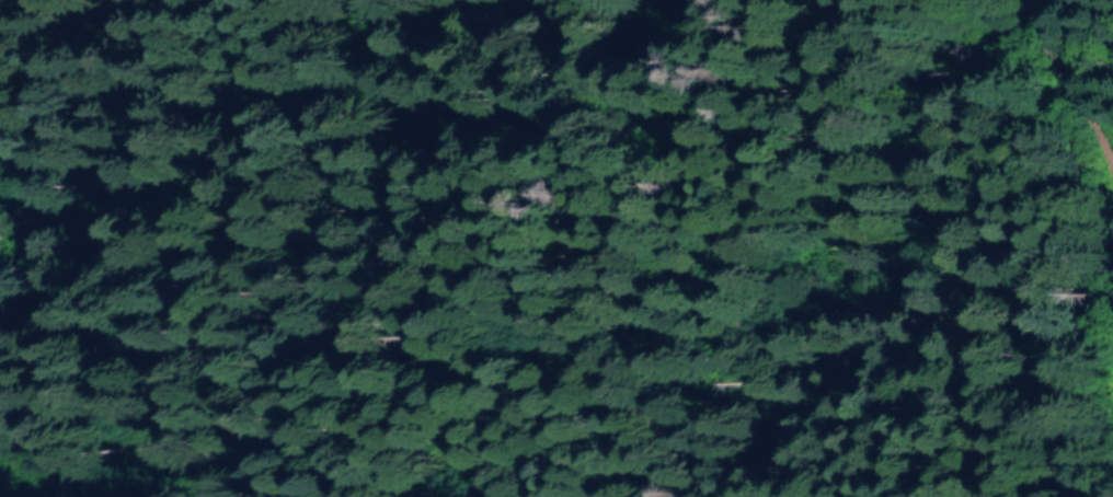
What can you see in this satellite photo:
road: (1075, 95)

